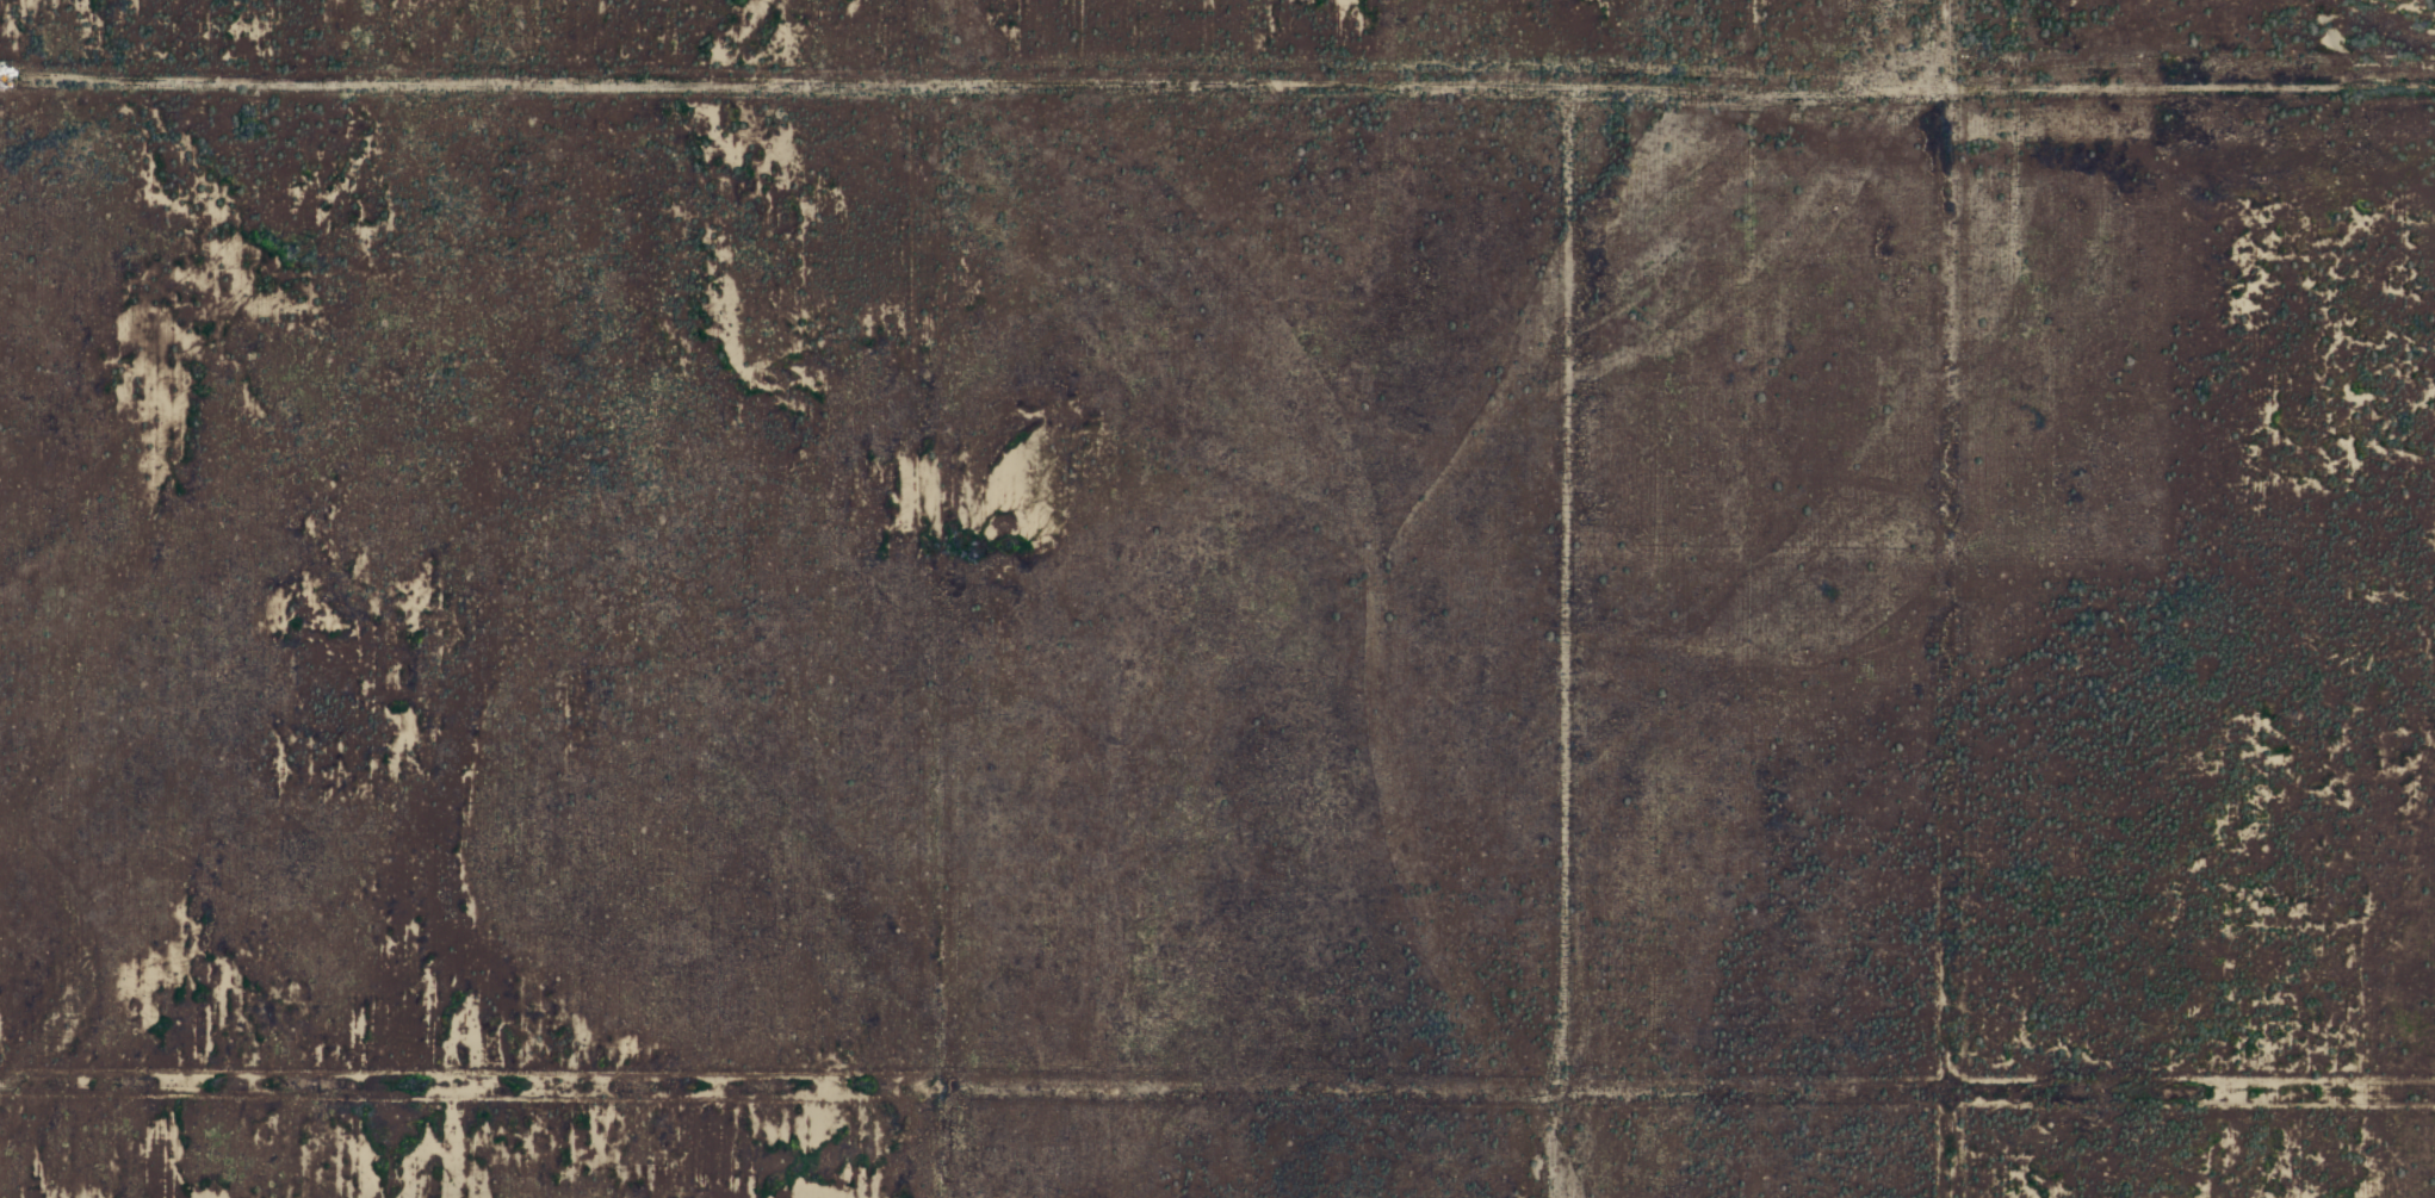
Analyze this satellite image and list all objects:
road: (1217, 27)

